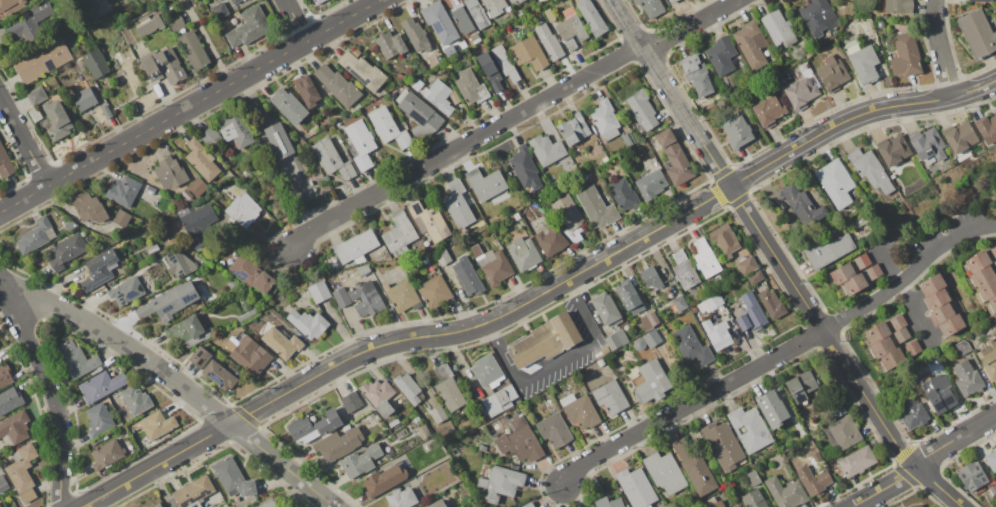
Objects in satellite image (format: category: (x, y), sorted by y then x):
building: (980, 0)
building: (235, 1)
building: (456, 1)
building: (673, 1)
building: (318, 2)
building: (512, 2)
building: (14, 6)
building: (101, 6)
building: (896, 6)
building: (495, 7)
building: (649, 8)
building: (219, 10)
building: (476, 13)
building: (549, 15)
building: (592, 17)
building: (818, 17)
road: (295, 20)
building: (461, 21)
building: (30, 22)
building: (175, 22)
building: (439, 22)
building: (148, 25)
building: (248, 26)
road: (693, 26)
building: (778, 28)
building: (571, 30)
building: (977, 34)
building: (418, 37)
building: (474, 37)
building: (548, 42)
building: (390, 44)
building: (752, 45)
building: (479, 48)
road: (941, 48)
building: (193, 50)
building: (449, 51)
building: (528, 53)
building: (722, 55)
building: (907, 56)
building: (42, 60)
building: (863, 62)
building: (505, 63)
building: (95, 64)
building: (163, 66)
building: (804, 67)
building: (363, 71)
building: (489, 71)
building: (833, 74)
building: (696, 76)
building: (400, 77)
building: (418, 84)
building: (338, 85)
building: (470, 87)
building: (158, 90)
building: (307, 90)
building: (801, 93)
building: (37, 96)
building: (438, 96)
building: (83, 99)
building: (289, 105)
road: (190, 106)
building: (418, 110)
building: (641, 110)
building: (106, 111)
building: (769, 111)
building: (57, 120)
building: (605, 120)
building: (388, 127)
building: (987, 128)
building: (573, 129)
building: (236, 130)
building: (422, 130)
building: (737, 132)
building: (210, 137)
building: (961, 138)
building: (628, 139)
building: (279, 140)
road: (24, 141)
building: (361, 143)
road: (465, 144)
building: (928, 145)
building: (546, 149)
building: (894, 151)
building: (674, 157)
building: (599, 158)
building: (332, 159)
building: (202, 160)
building: (5, 164)
building: (526, 168)
building: (934, 169)
building: (872, 171)
building: (170, 173)
building: (585, 175)
building: (485, 183)
building: (836, 183)
building: (651, 184)
building: (197, 187)
building: (123, 191)
building: (186, 194)
building: (624, 195)
building: (459, 204)
building: (802, 205)
building: (89, 208)
building: (596, 208)
building: (243, 210)
building: (569, 216)
building: (516, 217)
building: (121, 218)
building: (196, 218)
building: (428, 221)
building: (70, 225)
building: (36, 235)
building: (401, 238)
building: (552, 240)
building: (724, 240)
building: (355, 247)
building: (153, 249)
building: (384, 249)
building: (830, 250)
building: (66, 251)
building: (994, 251)
building: (525, 254)
building: (443, 258)
building: (705, 259)
building: (426, 260)
road: (778, 260)
building: (745, 261)
building: (978, 261)
building: (995, 262)
building: (178, 263)
building: (492, 264)
building: (99, 269)
building: (363, 270)
building: (684, 270)
building: (249, 273)
road: (907, 273)
building: (856, 274)
building: (468, 276)
building: (756, 277)
building: (651, 278)
building: (983, 283)
building: (932, 284)
building: (203, 289)
building: (126, 291)
building: (320, 291)
building: (435, 292)
road: (540, 295)
building: (403, 296)
road: (908, 296)
building: (341, 297)
building: (628, 297)
building: (366, 299)
building: (936, 299)
building: (169, 302)
building: (713, 302)
building: (680, 303)
building: (991, 303)
building: (772, 304)
building: (702, 307)
building: (606, 309)
building: (695, 309)
building: (941, 313)
building: (751, 314)
building: (246, 315)
building: (650, 320)
building: (309, 324)
building: (951, 325)
building: (884, 328)
building: (188, 332)
building: (717, 333)
building: (655, 336)
building: (616, 339)
building: (545, 340)
building: (281, 342)
building: (889, 342)
building: (639, 344)
building: (691, 346)
building: (963, 347)
building: (248, 353)
building: (898, 355)
building: (200, 358)
building: (77, 359)
building: (988, 359)
building: (601, 362)
road: (559, 364)
building: (934, 364)
building: (487, 371)
building: (6, 375)
building: (219, 375)
building: (967, 379)
road: (174, 381)
building: (651, 381)
building: (101, 385)
building: (801, 386)
building: (449, 388)
building: (409, 389)
building: (553, 389)
building: (377, 391)
road: (54, 397)
building: (611, 397)
building: (941, 399)
building: (10, 400)
building: (136, 400)
building: (498, 400)
building: (352, 402)
road: (690, 403)
building: (839, 407)
building: (772, 408)
building: (384, 409)
building: (580, 411)
building: (913, 414)
building: (438, 415)
building: (98, 419)
building: (416, 419)
building: (393, 423)
building: (151, 426)
building: (312, 427)
building: (346, 427)
building: (14, 429)
building: (750, 429)
building: (554, 430)
building: (423, 432)
building: (842, 433)
building: (105, 438)
building: (520, 441)
building: (338, 444)
building: (724, 446)
building: (482, 448)
building: (389, 454)
building: (107, 455)
road: (922, 459)
building: (992, 459)
building: (361, 461)
building: (857, 461)
building: (695, 465)
building: (23, 472)
building: (665, 472)
building: (972, 476)
building: (233, 478)
building: (754, 478)
building: (384, 480)
building: (814, 481)
building: (4, 483)
building: (500, 483)
building: (636, 487)
road: (160, 488)
building: (993, 489)
building: (191, 492)
building: (785, 493)
building: (400, 498)
building: (752, 500)
building: (607, 502)
building: (712, 502)
building: (269, 504)
building: (436, 504)
building: (157, 505)
building: (527, 505)
building: (736, 505)
building: (918, 505)
building: (0, 506)

